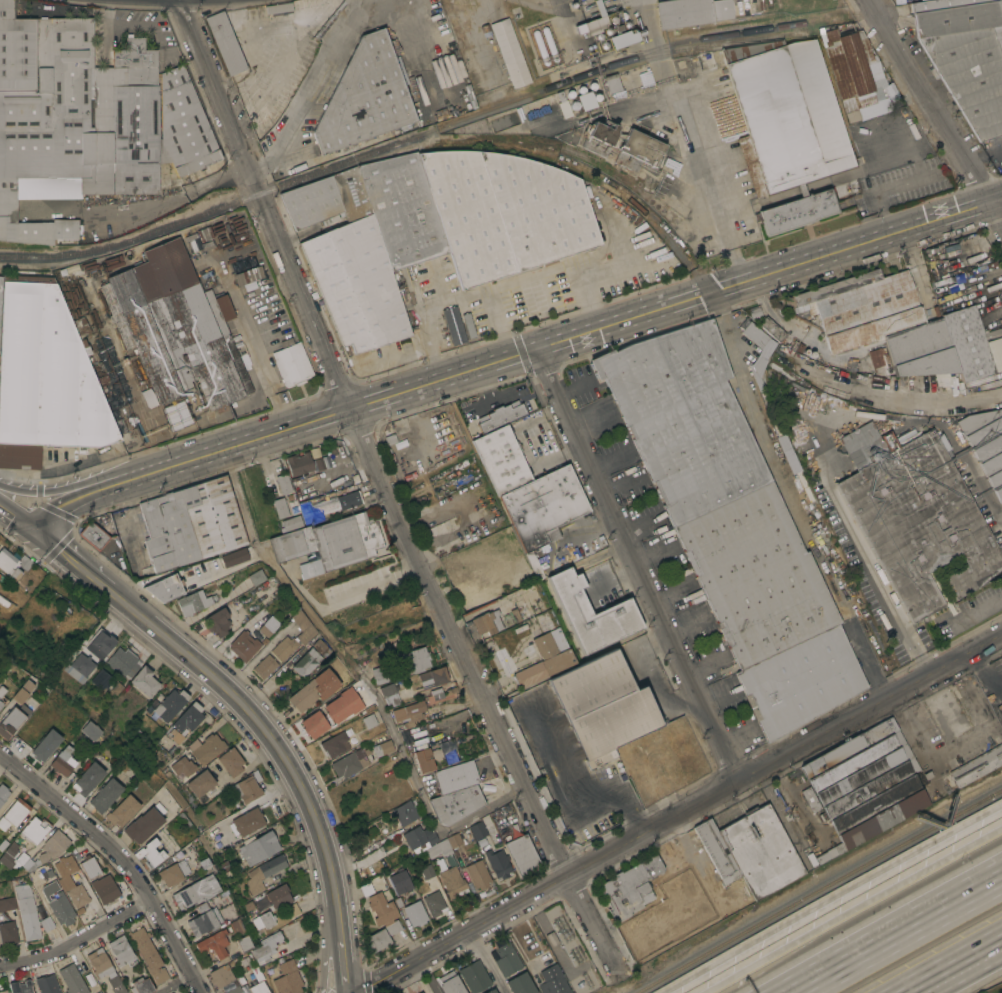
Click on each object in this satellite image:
building: (1000, 5)
building: (279, 8)
building: (691, 12)
building: (331, 18)
building: (595, 25)
railway: (701, 37)
building: (622, 38)
building: (225, 42)
railway: (704, 44)
building: (510, 52)
building: (967, 59)
building: (854, 74)
road: (321, 82)
building: (611, 83)
building: (411, 88)
building: (365, 97)
building: (585, 100)
building: (563, 104)
railway: (497, 105)
road: (935, 111)
building: (785, 115)
building: (88, 117)
building: (599, 136)
building: (638, 150)
railway: (316, 171)
road: (709, 188)
road: (153, 196)
building: (403, 212)
building: (505, 212)
building: (797, 212)
railway: (132, 237)
building: (206, 237)
building: (348, 261)
railway: (690, 264)
road: (529, 275)
building: (250, 280)
building: (754, 312)
road: (422, 314)
building: (880, 321)
building: (452, 325)
building: (178, 328)
building: (772, 329)
building: (754, 335)
road: (579, 337)
building: (972, 343)
building: (879, 361)
building: (292, 362)
building: (45, 377)
building: (508, 400)
building: (179, 414)
building: (454, 414)
building: (469, 415)
building: (397, 429)
building: (943, 443)
building: (985, 443)
building: (439, 446)
road: (771, 455)
building: (502, 459)
building: (305, 462)
building: (283, 483)
building: (321, 483)
road: (383, 485)
road: (78, 487)
road: (90, 494)
road: (243, 500)
building: (327, 504)
building: (543, 506)
building: (280, 507)
road: (14, 515)
building: (915, 516)
building: (291, 522)
building: (191, 523)
traffic signals: (29, 524)
building: (731, 524)
building: (437, 527)
building: (98, 531)
building: (328, 543)
building: (236, 556)
road: (68, 557)
building: (13, 564)
road: (638, 565)
building: (257, 577)
road: (875, 577)
building: (165, 588)
building: (458, 590)
building: (194, 602)
road: (975, 608)
building: (588, 614)
building: (222, 619)
building: (487, 622)
building: (268, 626)
building: (304, 635)
building: (100, 645)
building: (244, 645)
building: (546, 653)
building: (415, 659)
road: (864, 661)
building: (306, 662)
building: (265, 666)
building: (80, 667)
building: (133, 670)
building: (377, 675)
building: (431, 677)
building: (101, 679)
building: (313, 689)
building: (2, 690)
building: (22, 691)
building: (387, 694)
building: (0, 704)
building: (170, 704)
building: (340, 705)
building: (603, 706)
building: (407, 714)
building: (189, 717)
building: (12, 720)
building: (367, 721)
building: (311, 724)
building: (90, 730)
building: (175, 735)
road: (269, 737)
building: (1000, 742)
building: (334, 744)
building: (45, 745)
building: (208, 748)
building: (381, 748)
building: (448, 757)
road: (929, 757)
building: (426, 758)
building: (63, 761)
building: (231, 761)
building: (350, 762)
building: (184, 766)
building: (977, 766)
building: (455, 776)
building: (88, 779)
building: (201, 783)
building: (865, 783)
building: (246, 789)
building: (3, 793)
road: (422, 794)
building: (105, 795)
road: (800, 800)
building: (456, 803)
building: (123, 811)
building: (13, 813)
building: (405, 813)
road: (678, 813)
building: (247, 821)
building: (143, 825)
building: (35, 828)
building: (478, 830)
building: (430, 841)
building: (259, 848)
building: (52, 849)
building: (761, 851)
building: (149, 852)
building: (830, 853)
building: (522, 855)
building: (669, 855)
road: (119, 859)
building: (722, 861)
building: (202, 862)
building: (498, 863)
building: (89, 866)
building: (426, 870)
building: (264, 872)
building: (173, 873)
building: (478, 874)
building: (46, 875)
building: (450, 879)
building: (70, 881)
building: (400, 882)
building: (630, 887)
building: (104, 889)
building: (366, 889)
railway: (818, 889)
building: (195, 892)
road: (827, 892)
building: (278, 896)
building: (7, 903)
building: (434, 903)
building: (57, 904)
building: (247, 906)
road: (852, 909)
building: (291, 910)
building: (26, 912)
building: (384, 913)
building: (415, 913)
building: (206, 918)
building: (263, 920)
building: (46, 923)
building: (236, 926)
building: (8, 932)
road: (894, 932)
building: (275, 936)
building: (551, 939)
building: (377, 940)
road: (79, 942)
building: (214, 943)
building: (244, 943)
road: (325, 948)
building: (263, 949)
building: (120, 951)
building: (147, 953)
building: (506, 959)
building: (245, 961)
building: (98, 962)
road: (343, 967)
road: (955, 967)
building: (220, 976)
building: (474, 976)
building: (288, 978)
building: (72, 979)
building: (552, 981)
building: (257, 982)
building: (450, 983)
building: (47, 984)
building: (115, 984)
road: (176, 984)
building: (520, 984)
building: (141, 986)
building: (20, 987)
building: (234, 990)
building: (3, 991)
building: (491, 991)
building: (97, 992)
building: (99, 992)
building: (420, 992)
building: (497, 992)

